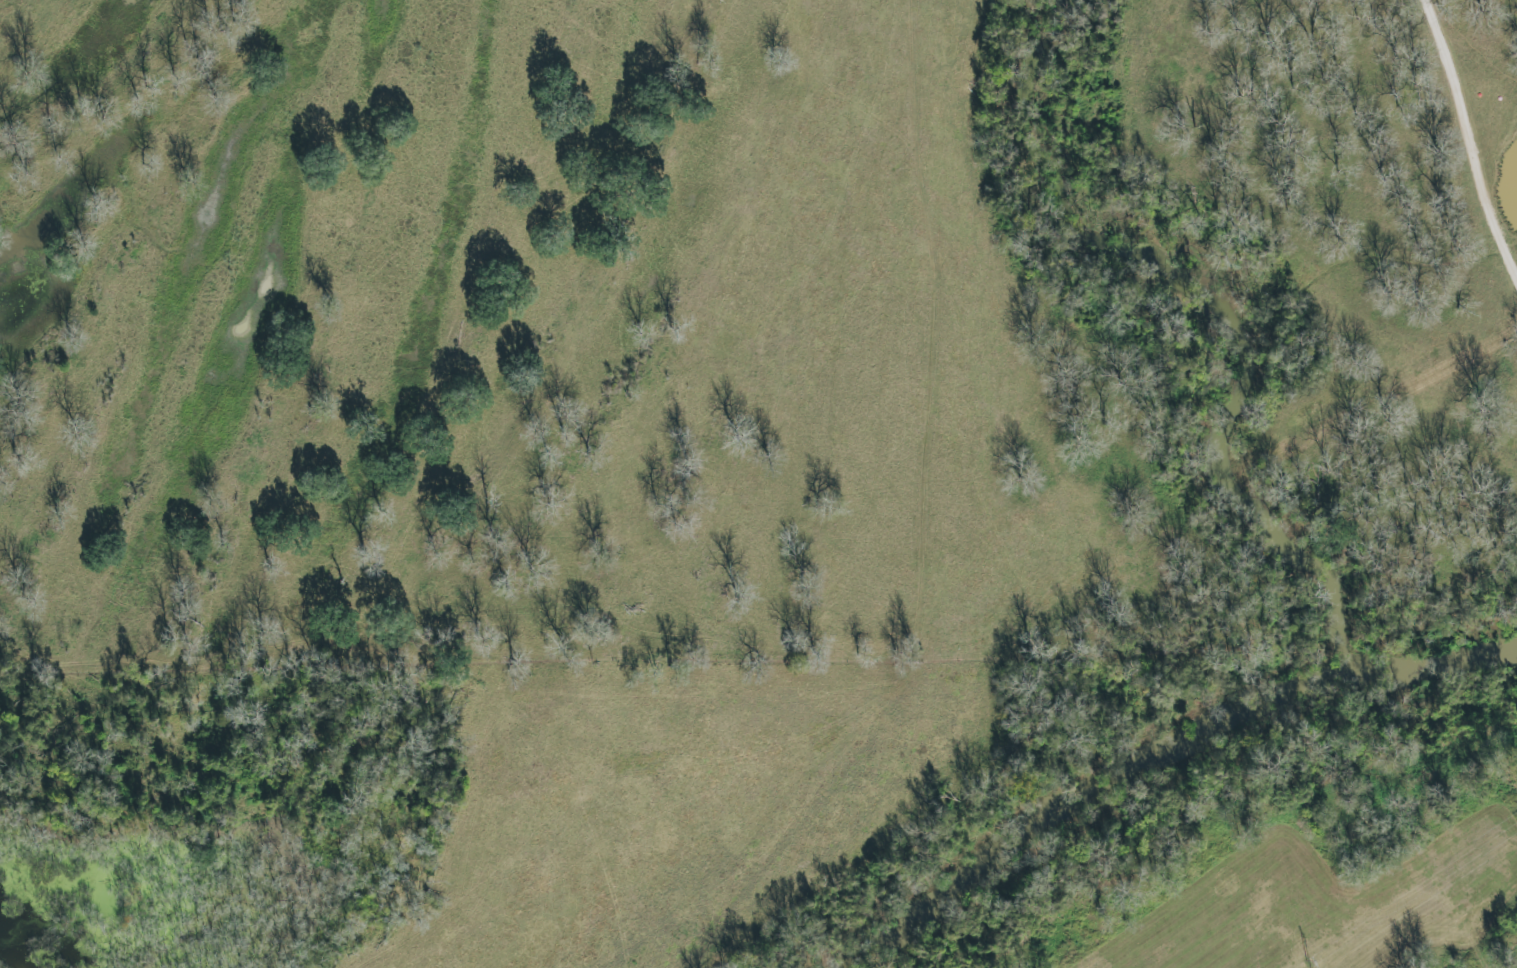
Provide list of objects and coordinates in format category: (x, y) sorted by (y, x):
river: (1157, 751)
power tower: (1307, 967)

